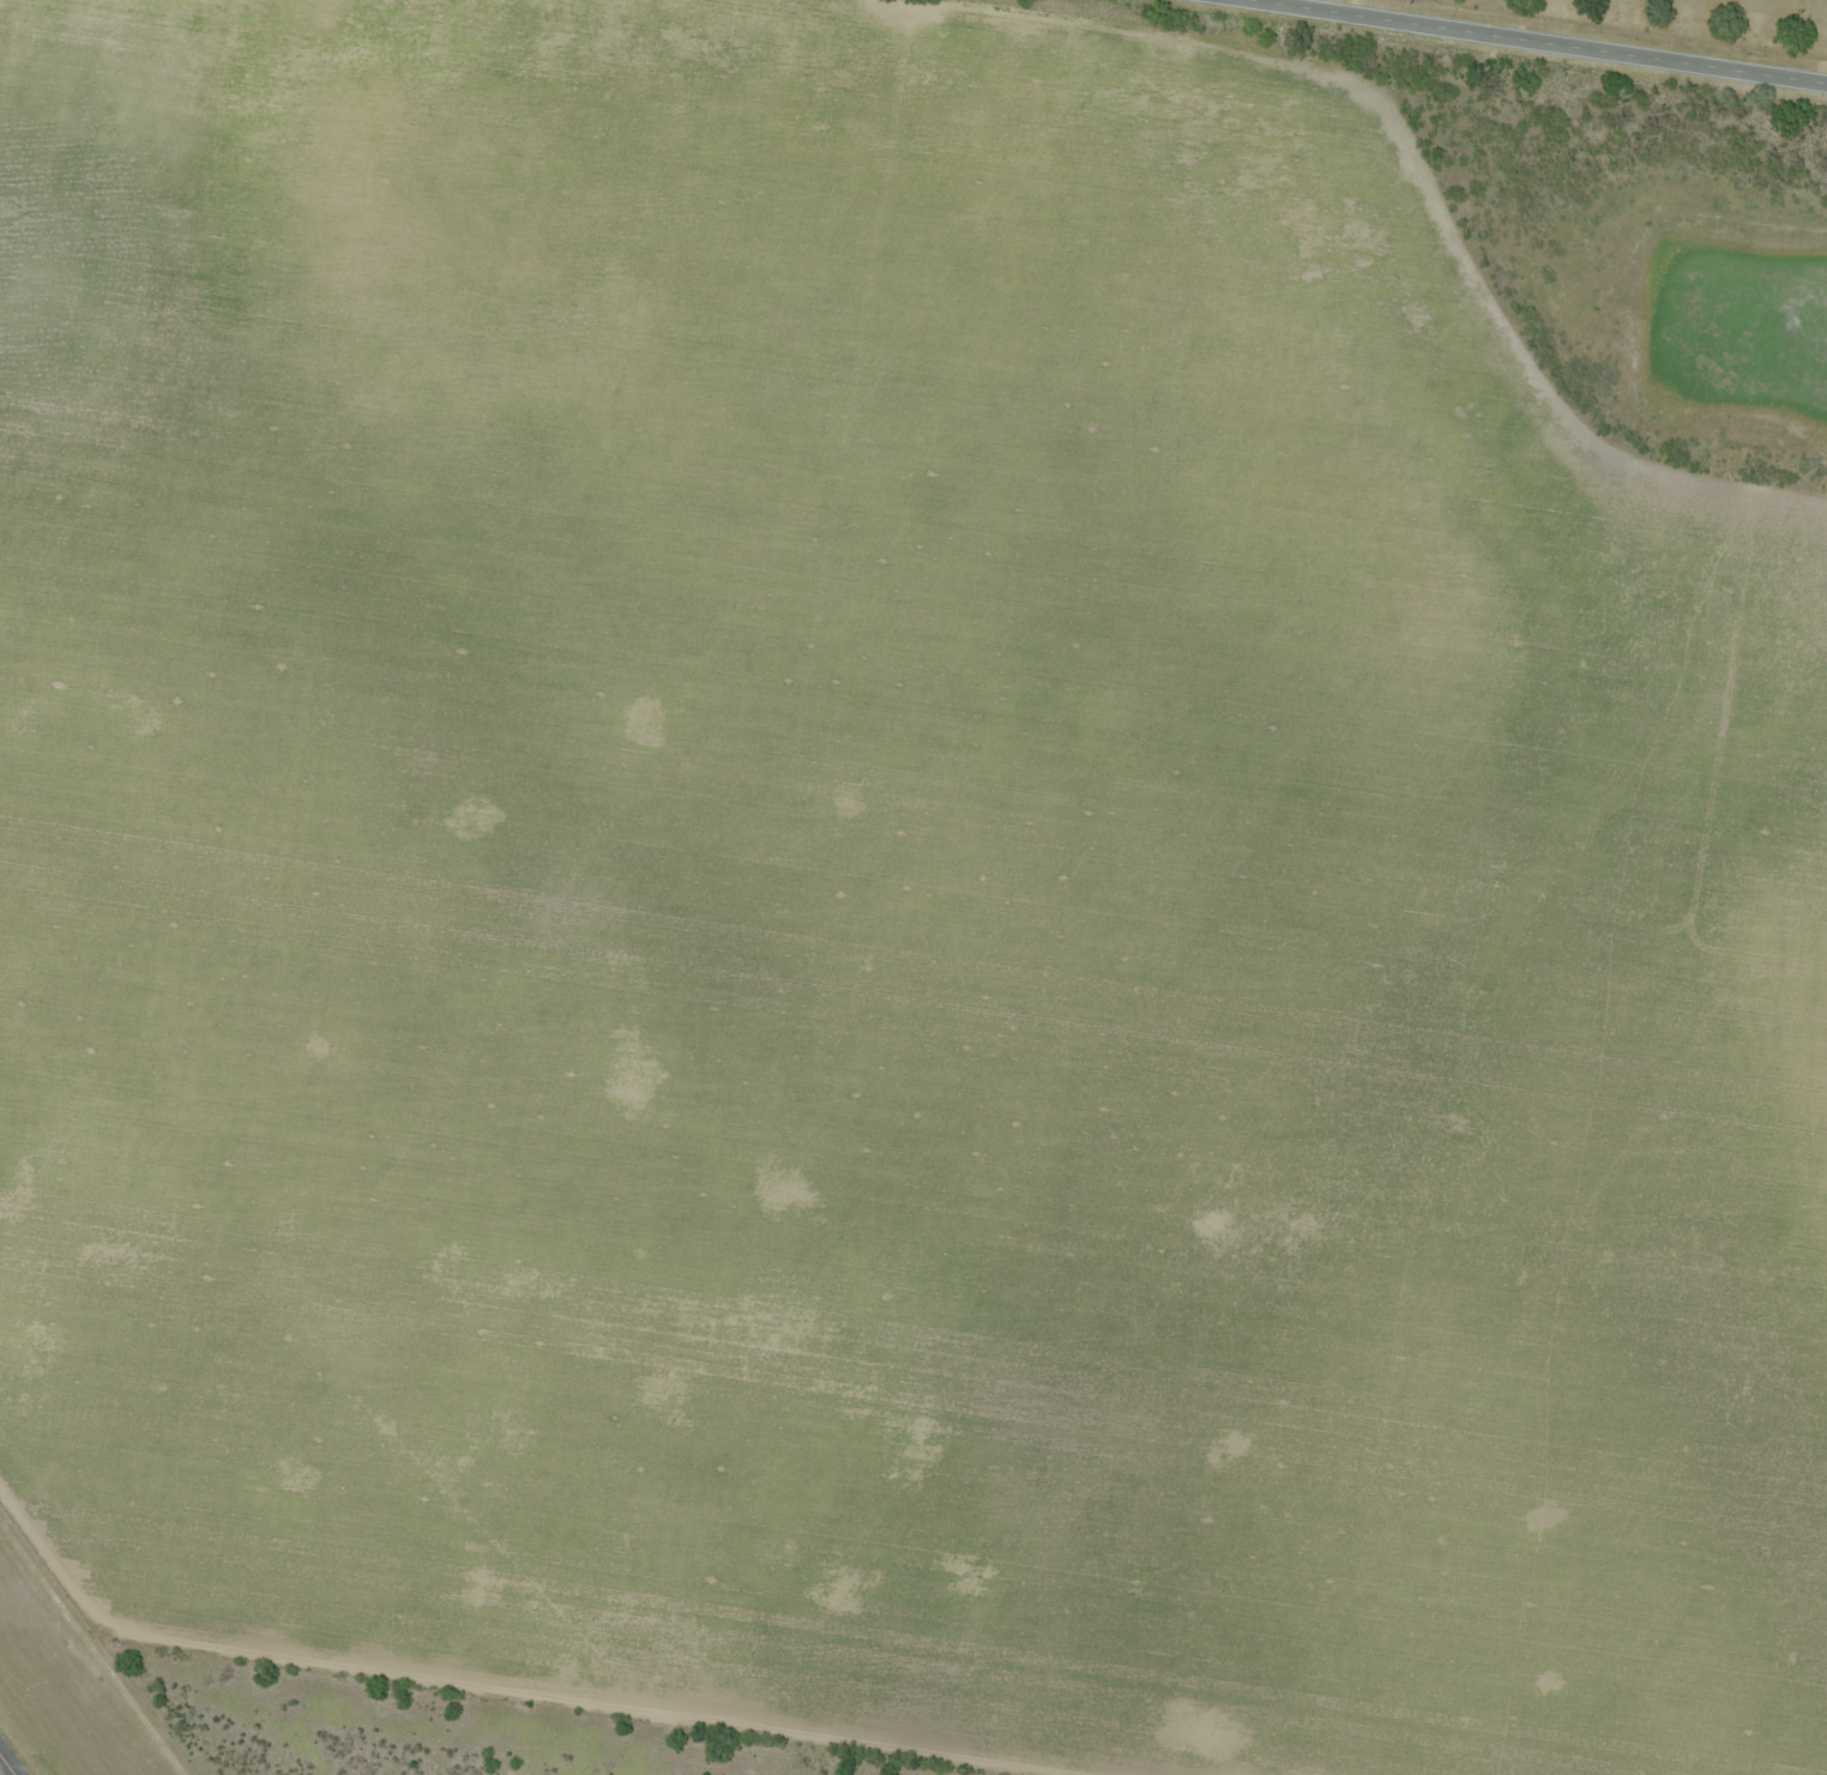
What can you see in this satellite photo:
road: (1523, 43)
road: (10, 71)
road: (126, 1595)
airport: (64, 1685)
airport taxiway: (6, 1765)

